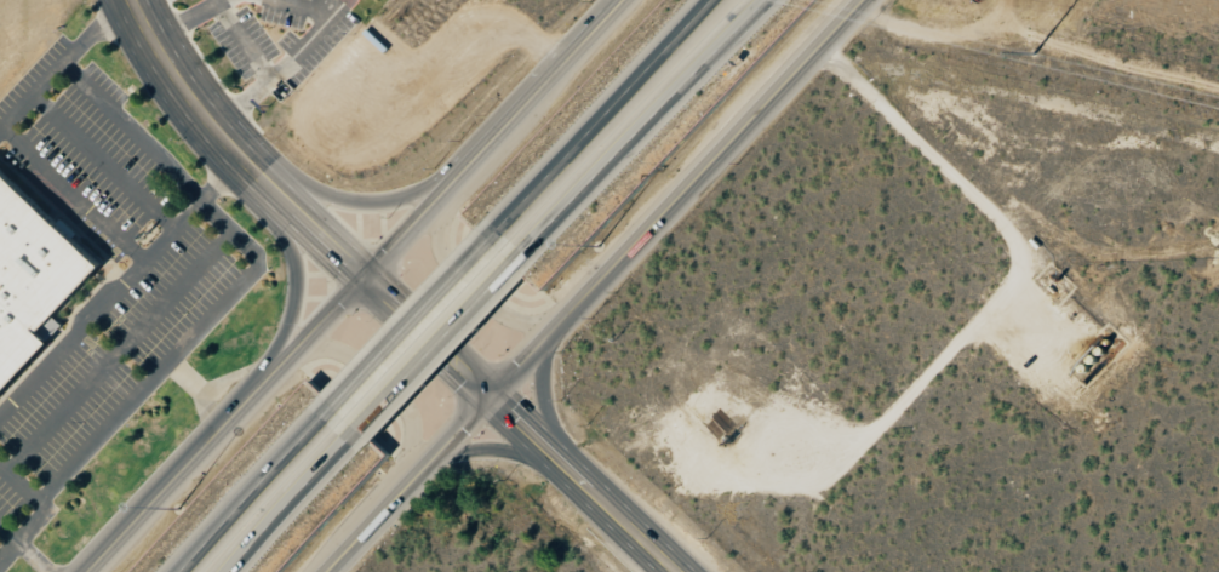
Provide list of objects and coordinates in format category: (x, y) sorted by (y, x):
power tower: (1036, 53)
road: (188, 93)
road: (40, 98)
road: (132, 121)
road: (606, 121)
road: (645, 131)
building: (32, 278)
road: (353, 284)
road: (377, 285)
road: (597, 286)
road: (236, 302)
road: (417, 325)
road: (442, 348)
road: (98, 447)
road: (586, 484)
road: (258, 490)
road: (299, 502)
road: (25, 547)

